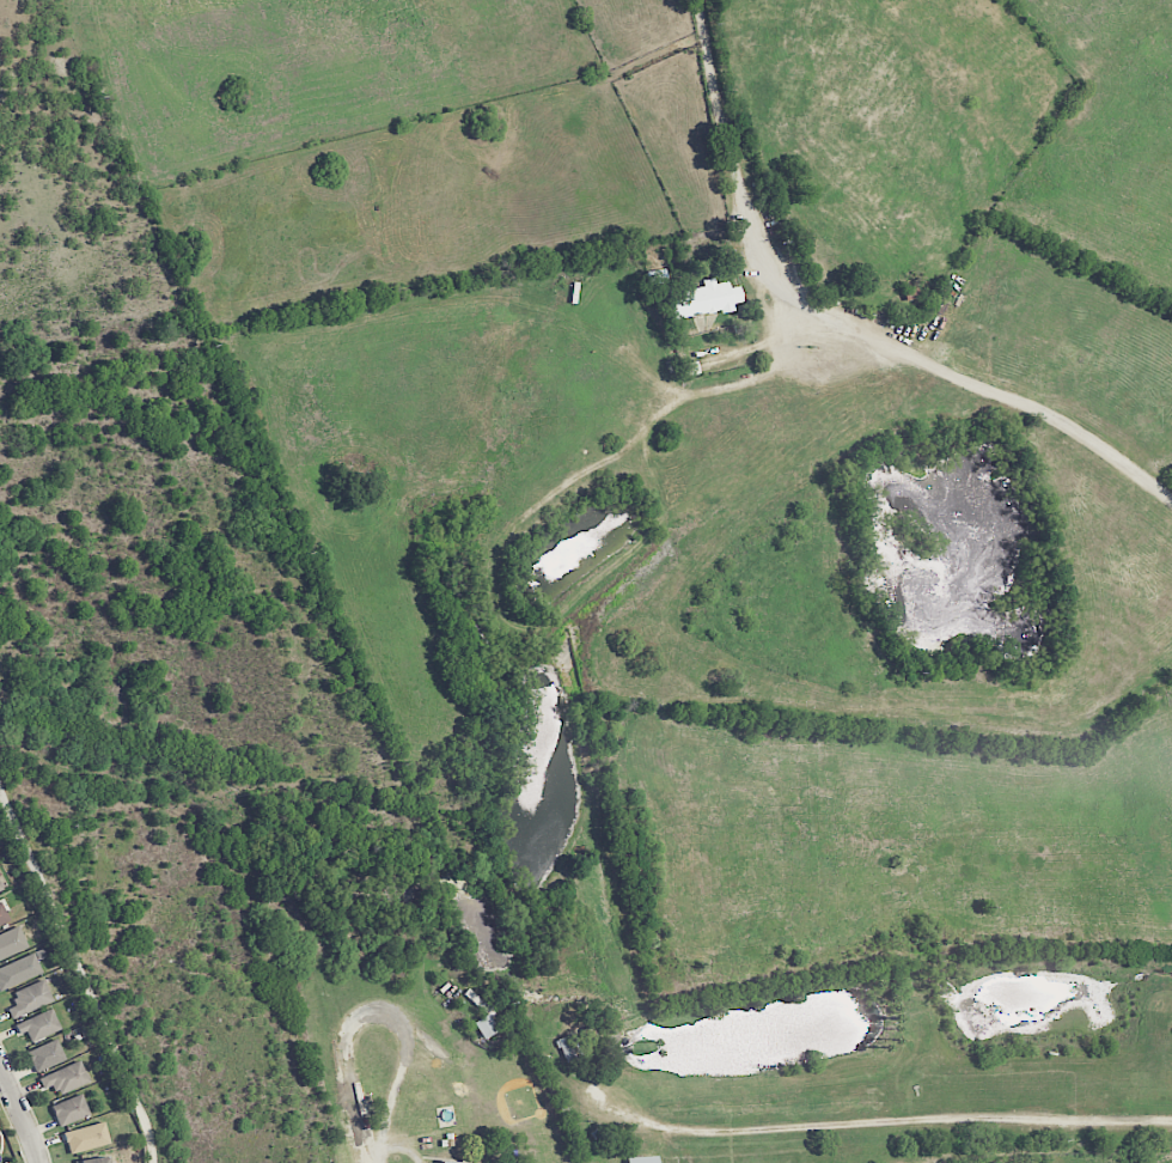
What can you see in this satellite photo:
road: (719, 87)
building: (706, 300)
road: (924, 363)
building: (0, 888)
building: (2, 917)
building: (11, 942)
building: (18, 970)
road: (81, 974)
building: (29, 999)
road: (377, 1012)
building: (37, 1025)
building: (484, 1027)
building: (568, 1047)
building: (45, 1055)
building: (65, 1078)
building: (69, 1110)
road: (22, 1114)
road: (899, 1121)
building: (85, 1138)
building: (642, 1159)
building: (92, 1161)
building: (452, 1162)

